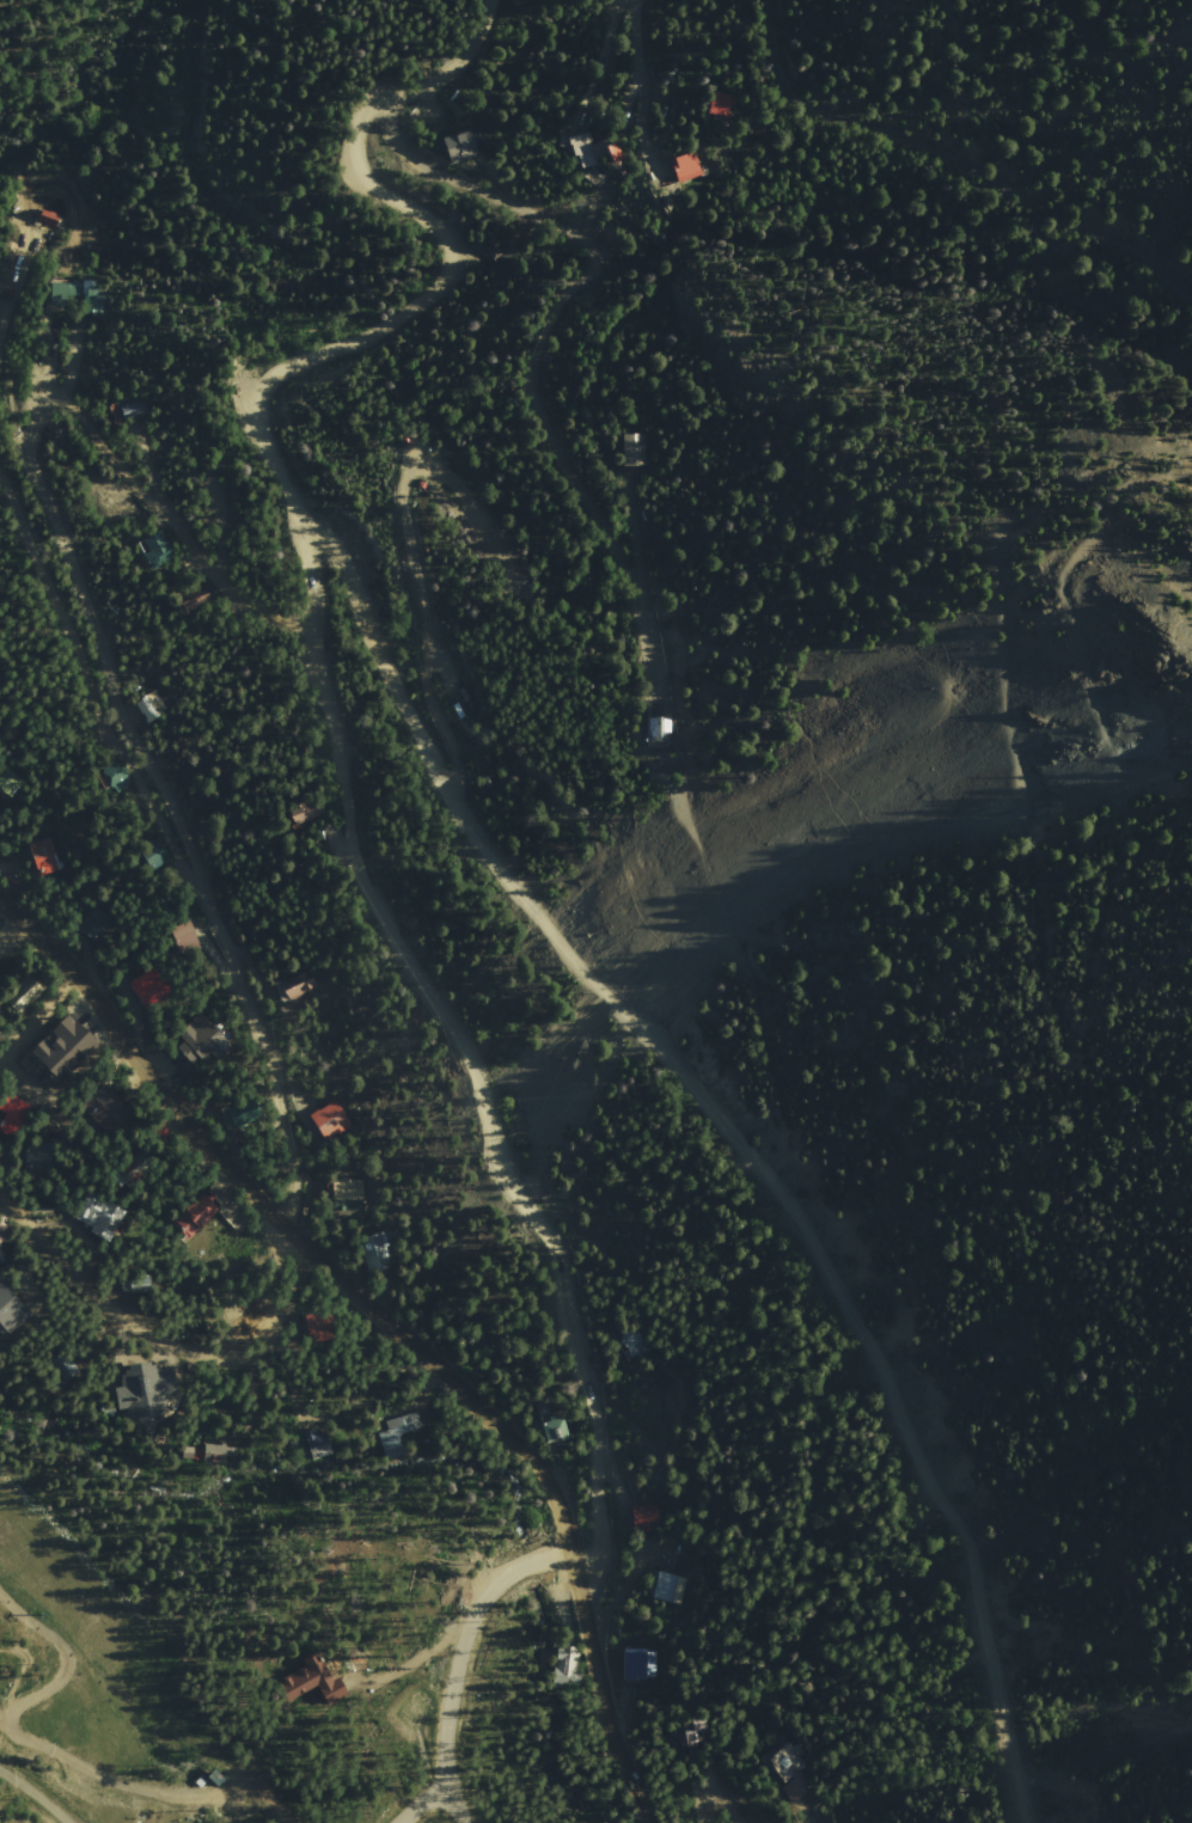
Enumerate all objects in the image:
road: (604, 38)
road: (57, 42)
road: (467, 45)
road: (644, 90)
building: (721, 110)
building: (580, 149)
building: (459, 152)
building: (613, 158)
road: (956, 159)
building: (685, 172)
building: (48, 219)
building: (78, 296)
road: (422, 301)
road: (539, 354)
building: (132, 411)
building: (636, 451)
road: (175, 531)
road: (72, 545)
building: (157, 551)
road: (1098, 567)
road: (54, 570)
road: (412, 574)
building: (195, 604)
building: (151, 708)
building: (460, 711)
building: (659, 732)
building: (116, 778)
building: (8, 782)
building: (307, 812)
building: (154, 856)
building: (44, 858)
road: (722, 907)
building: (94, 926)
building: (184, 940)
road: (228, 955)
building: (297, 986)
building: (149, 990)
building: (29, 998)
road: (41, 1013)
building: (202, 1042)
road: (1066, 1045)
road: (460, 1047)
building: (62, 1050)
building: (13, 1111)
building: (106, 1111)
building: (232, 1117)
building: (243, 1118)
building: (331, 1122)
building: (163, 1133)
road: (732, 1136)
building: (39, 1160)
building: (140, 1174)
building: (349, 1193)
building: (198, 1217)
building: (99, 1218)
building: (1, 1246)
building: (375, 1256)
building: (10, 1314)
building: (319, 1326)
road: (390, 1327)
road: (155, 1336)
building: (636, 1347)
building: (67, 1366)
building: (147, 1391)
building: (403, 1426)
building: (556, 1431)
building: (318, 1444)
building: (391, 1451)
building: (210, 1454)
building: (647, 1517)
building: (671, 1589)
aerialway pylon: (45, 1617)
road: (453, 1659)
building: (640, 1665)
building: (568, 1670)
building: (311, 1683)
ski resort: (103, 1693)
building: (702, 1730)
aerialway pylon: (182, 1745)
building: (789, 1772)
road: (38, 1787)
road: (710, 1788)
road: (433, 1799)

